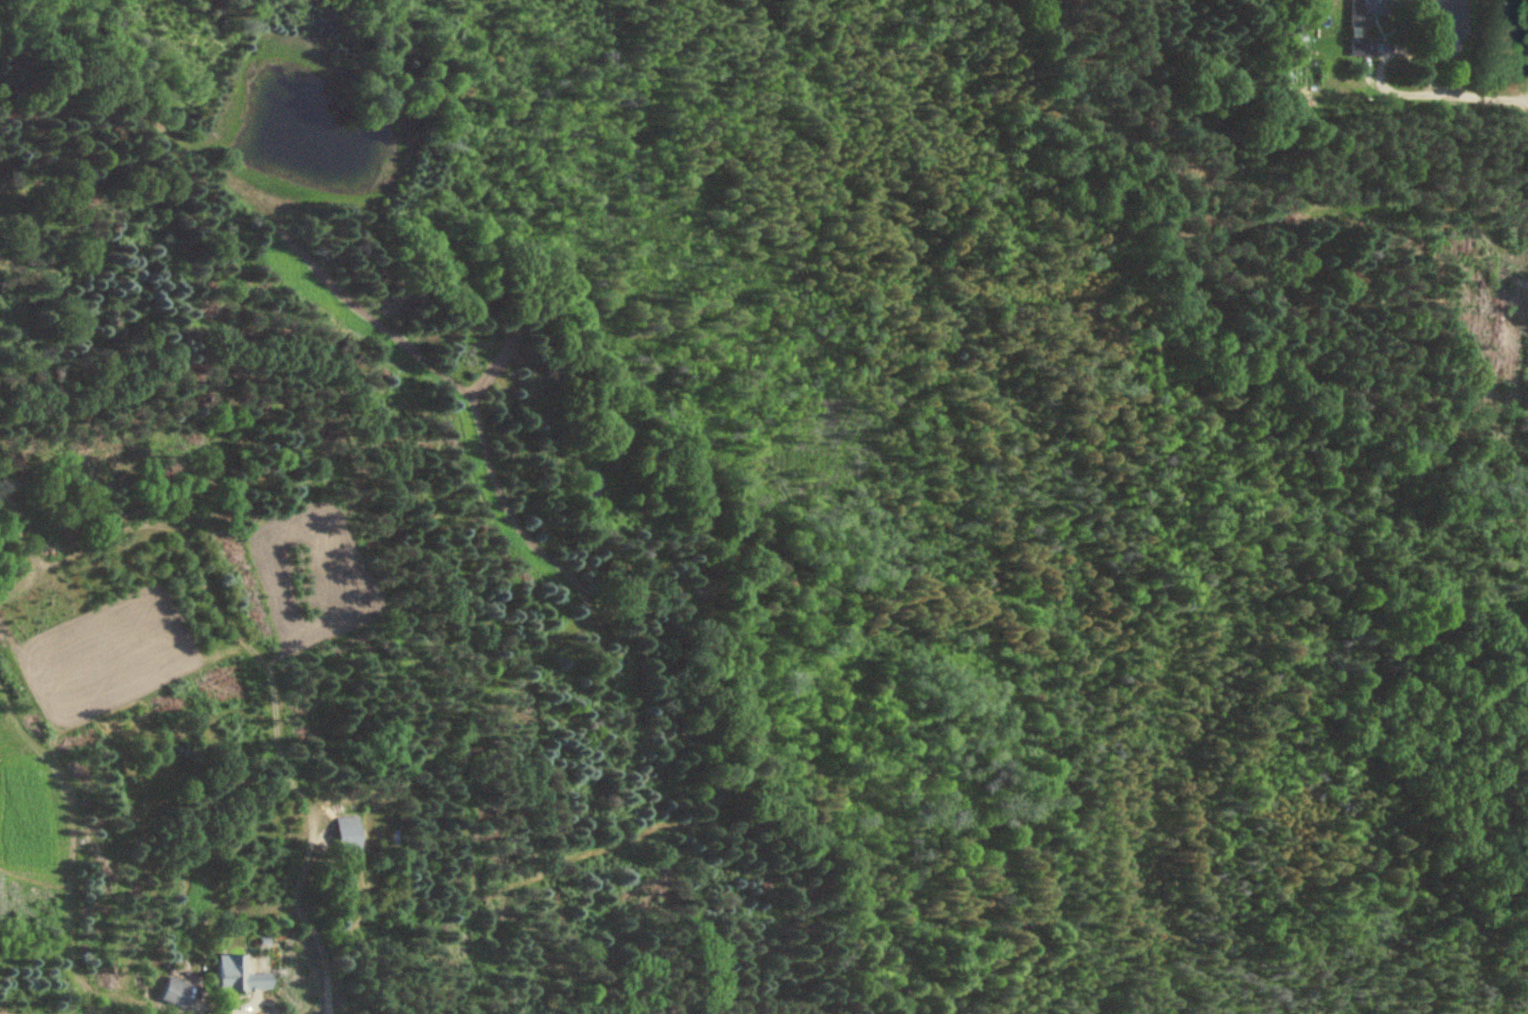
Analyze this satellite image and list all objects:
building: (1365, 11)
building: (1365, 47)
building: (347, 836)
building: (239, 976)
building: (174, 992)

